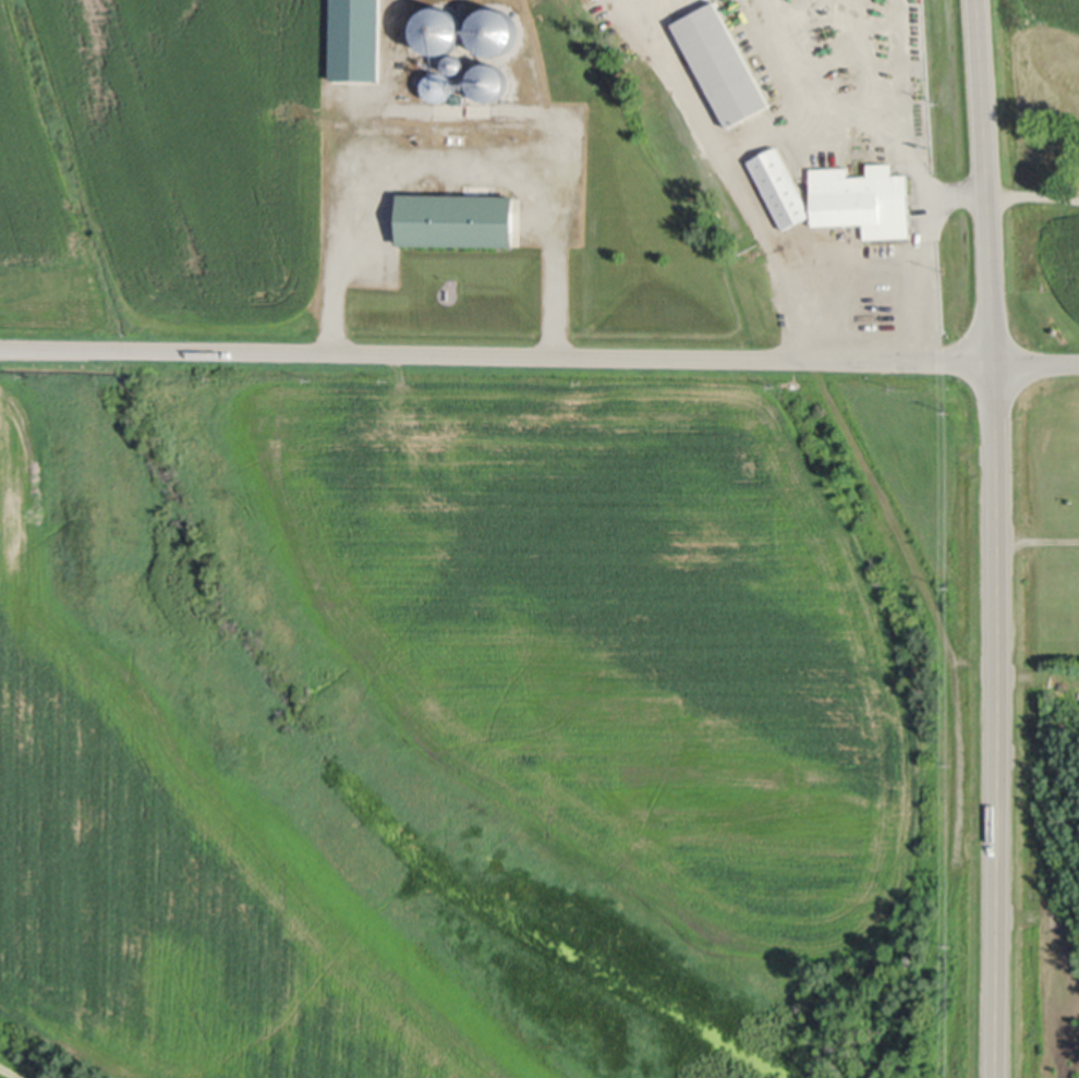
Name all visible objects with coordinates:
building: (441, 33)
building: (495, 33)
building: (725, 62)
building: (456, 66)
building: (490, 83)
building: (440, 86)
road: (739, 148)
building: (783, 185)
road: (1005, 191)
building: (865, 198)
building: (458, 220)
road: (858, 262)
road: (334, 268)
road: (555, 269)
road: (922, 276)
road: (497, 354)
road: (1036, 361)
park: (1052, 524)
road: (1036, 537)
road: (995, 538)
road: (11, 1070)

